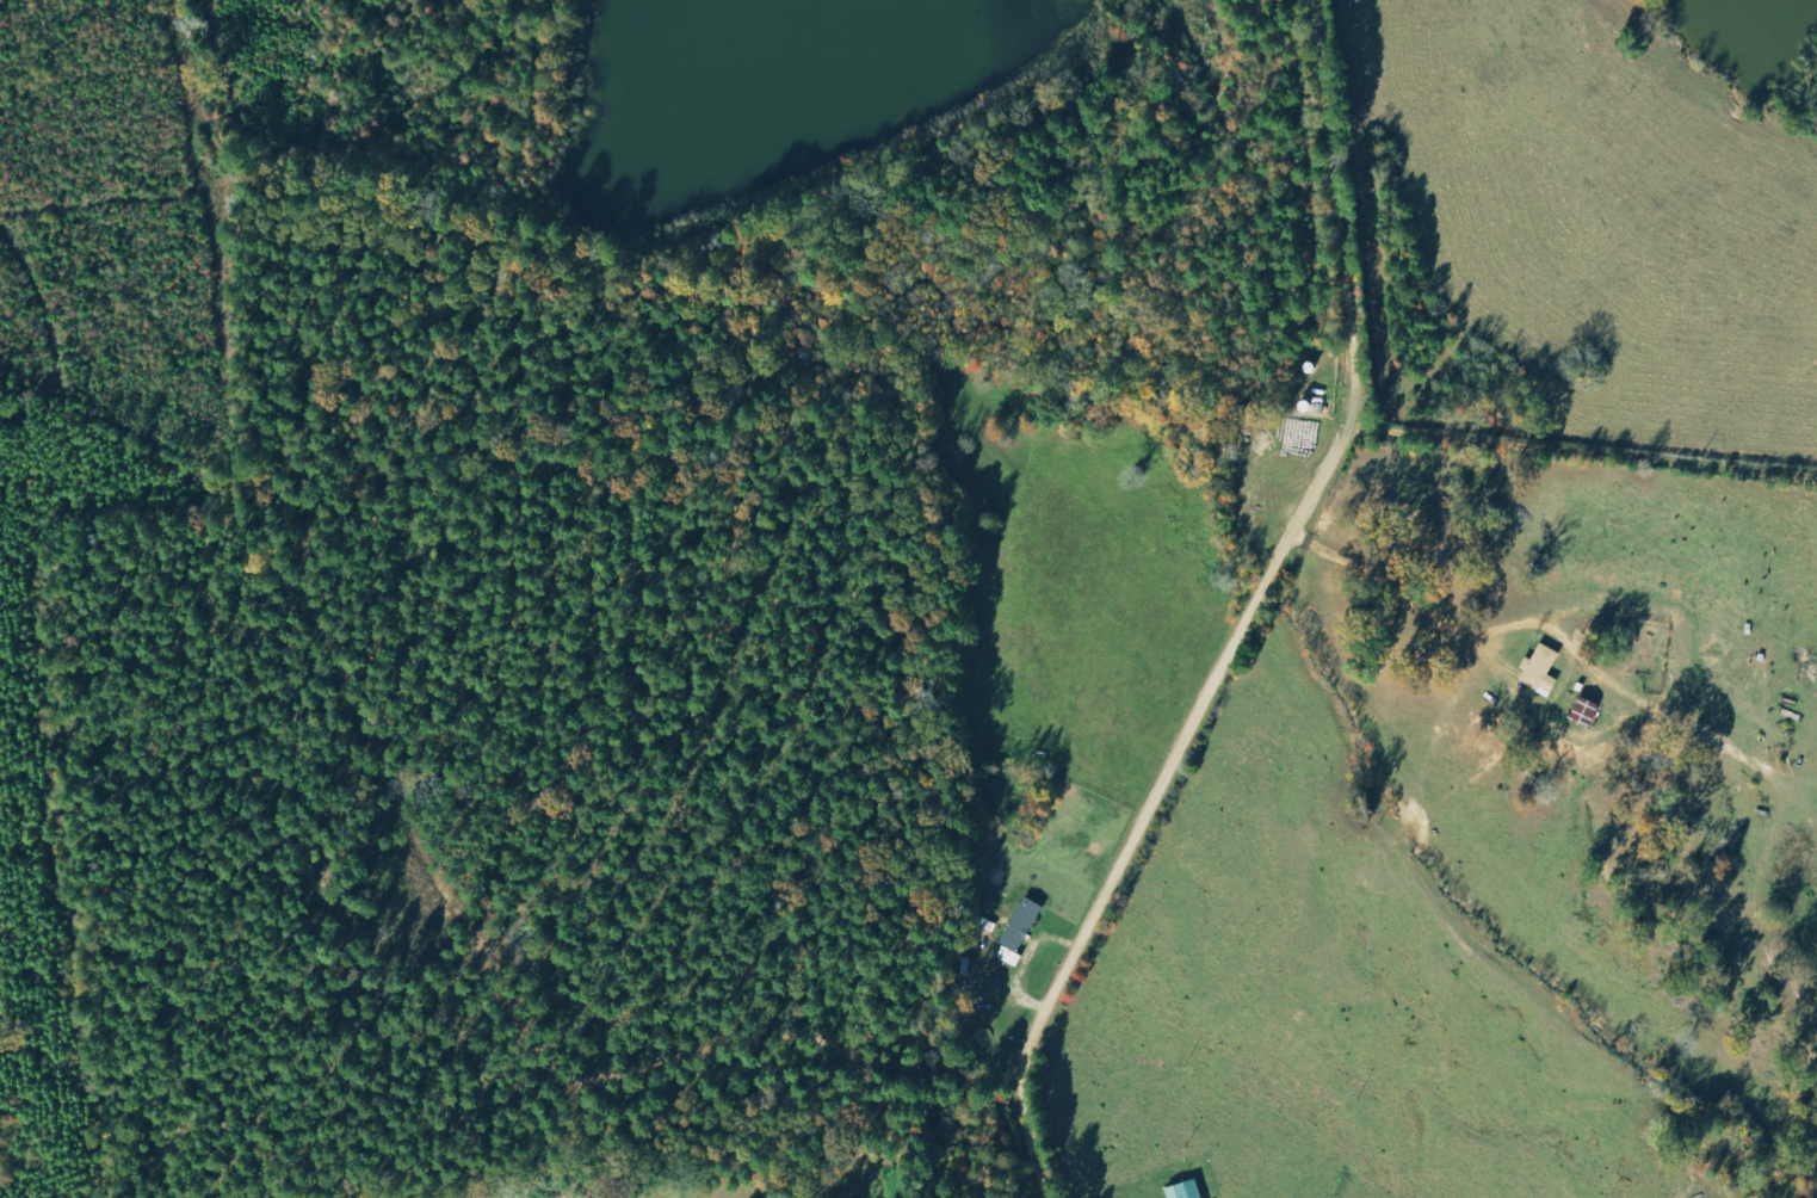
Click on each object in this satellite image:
road: (1584, 456)
road: (1275, 616)
building: (1543, 671)
building: (1025, 926)
building: (1187, 1191)

